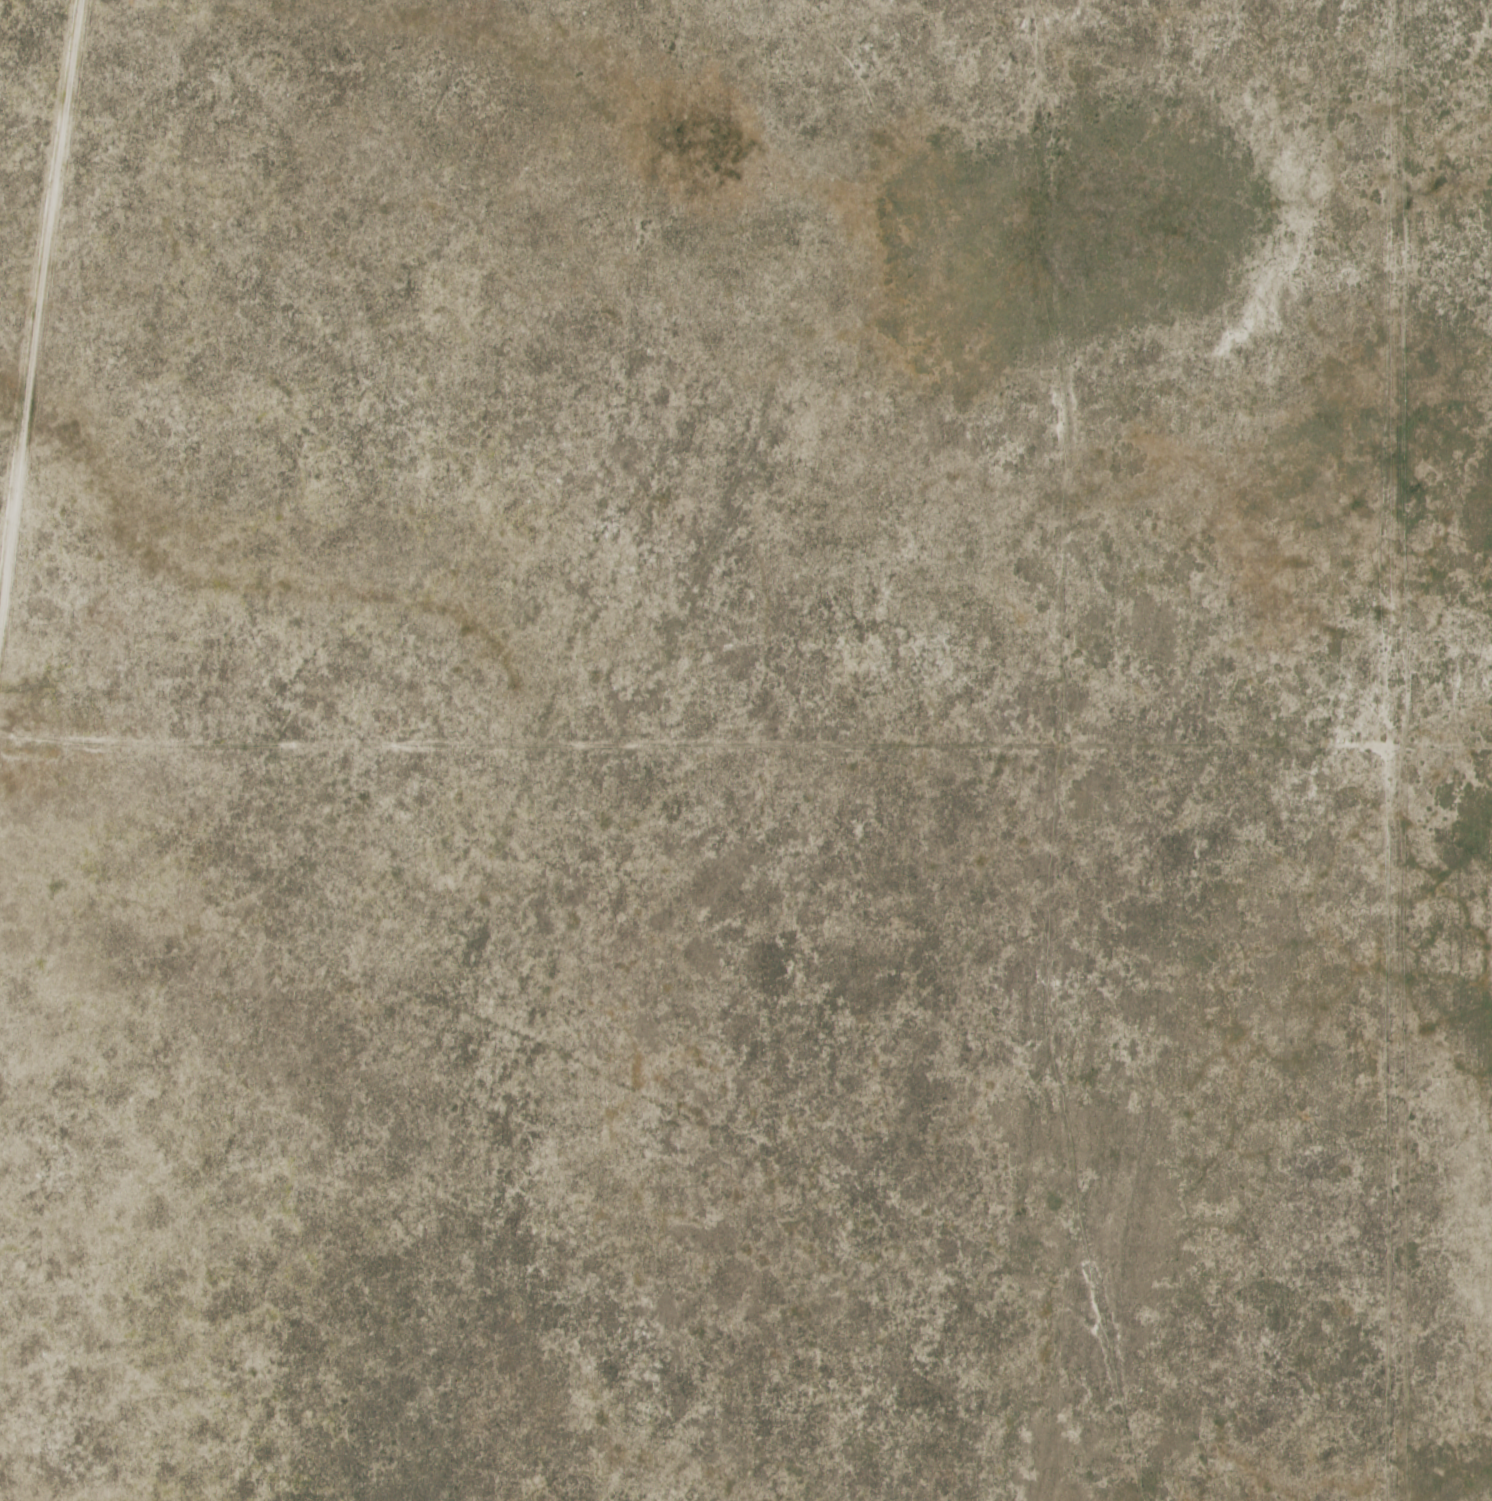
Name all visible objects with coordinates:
road: (37, 348)
road: (697, 700)

